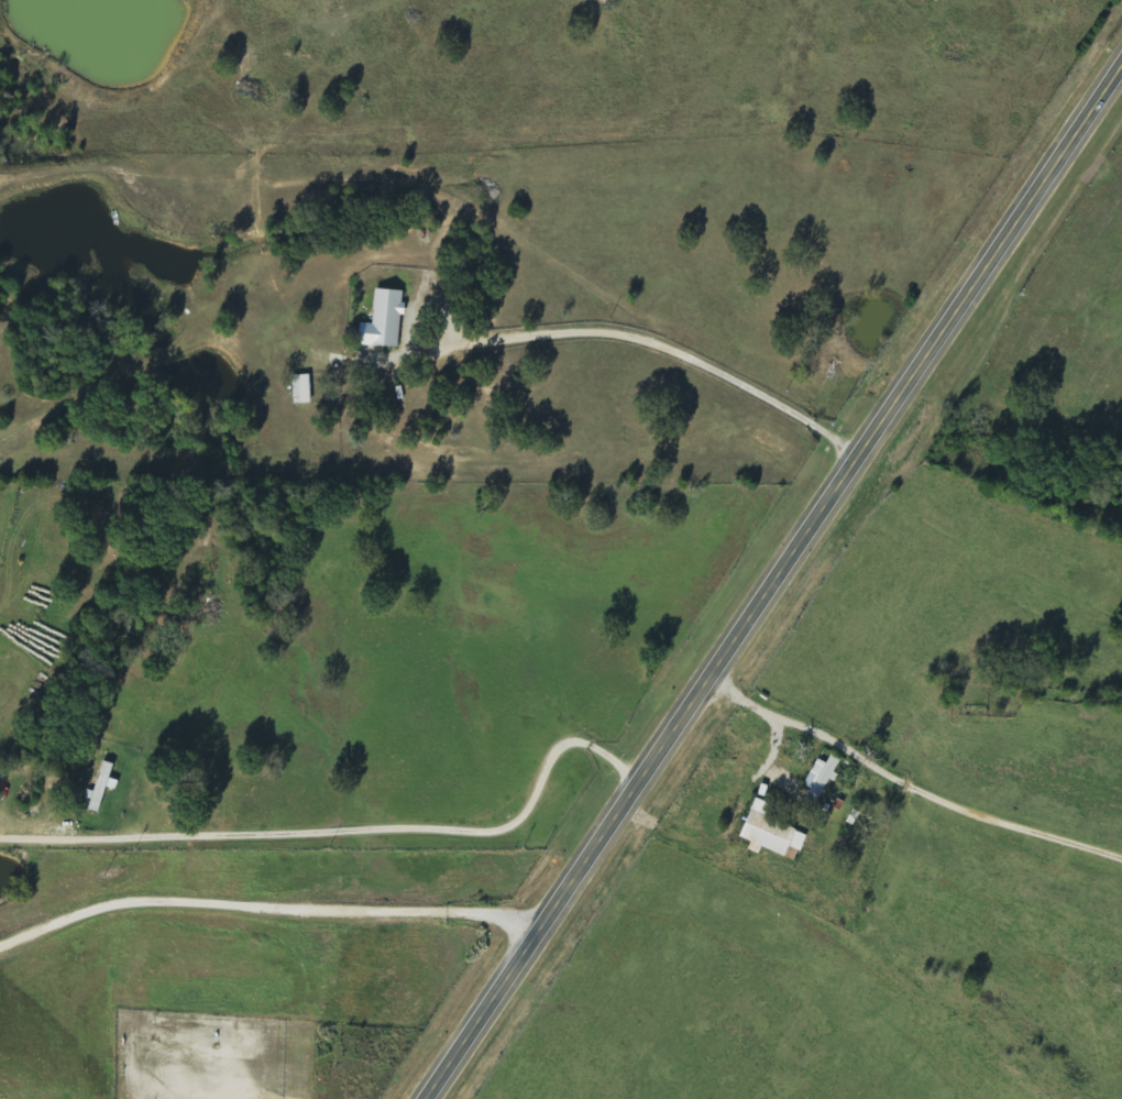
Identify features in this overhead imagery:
building: (384, 321)
road: (660, 345)
building: (301, 389)
road: (774, 582)
building: (822, 777)
building: (101, 787)
building: (770, 833)

